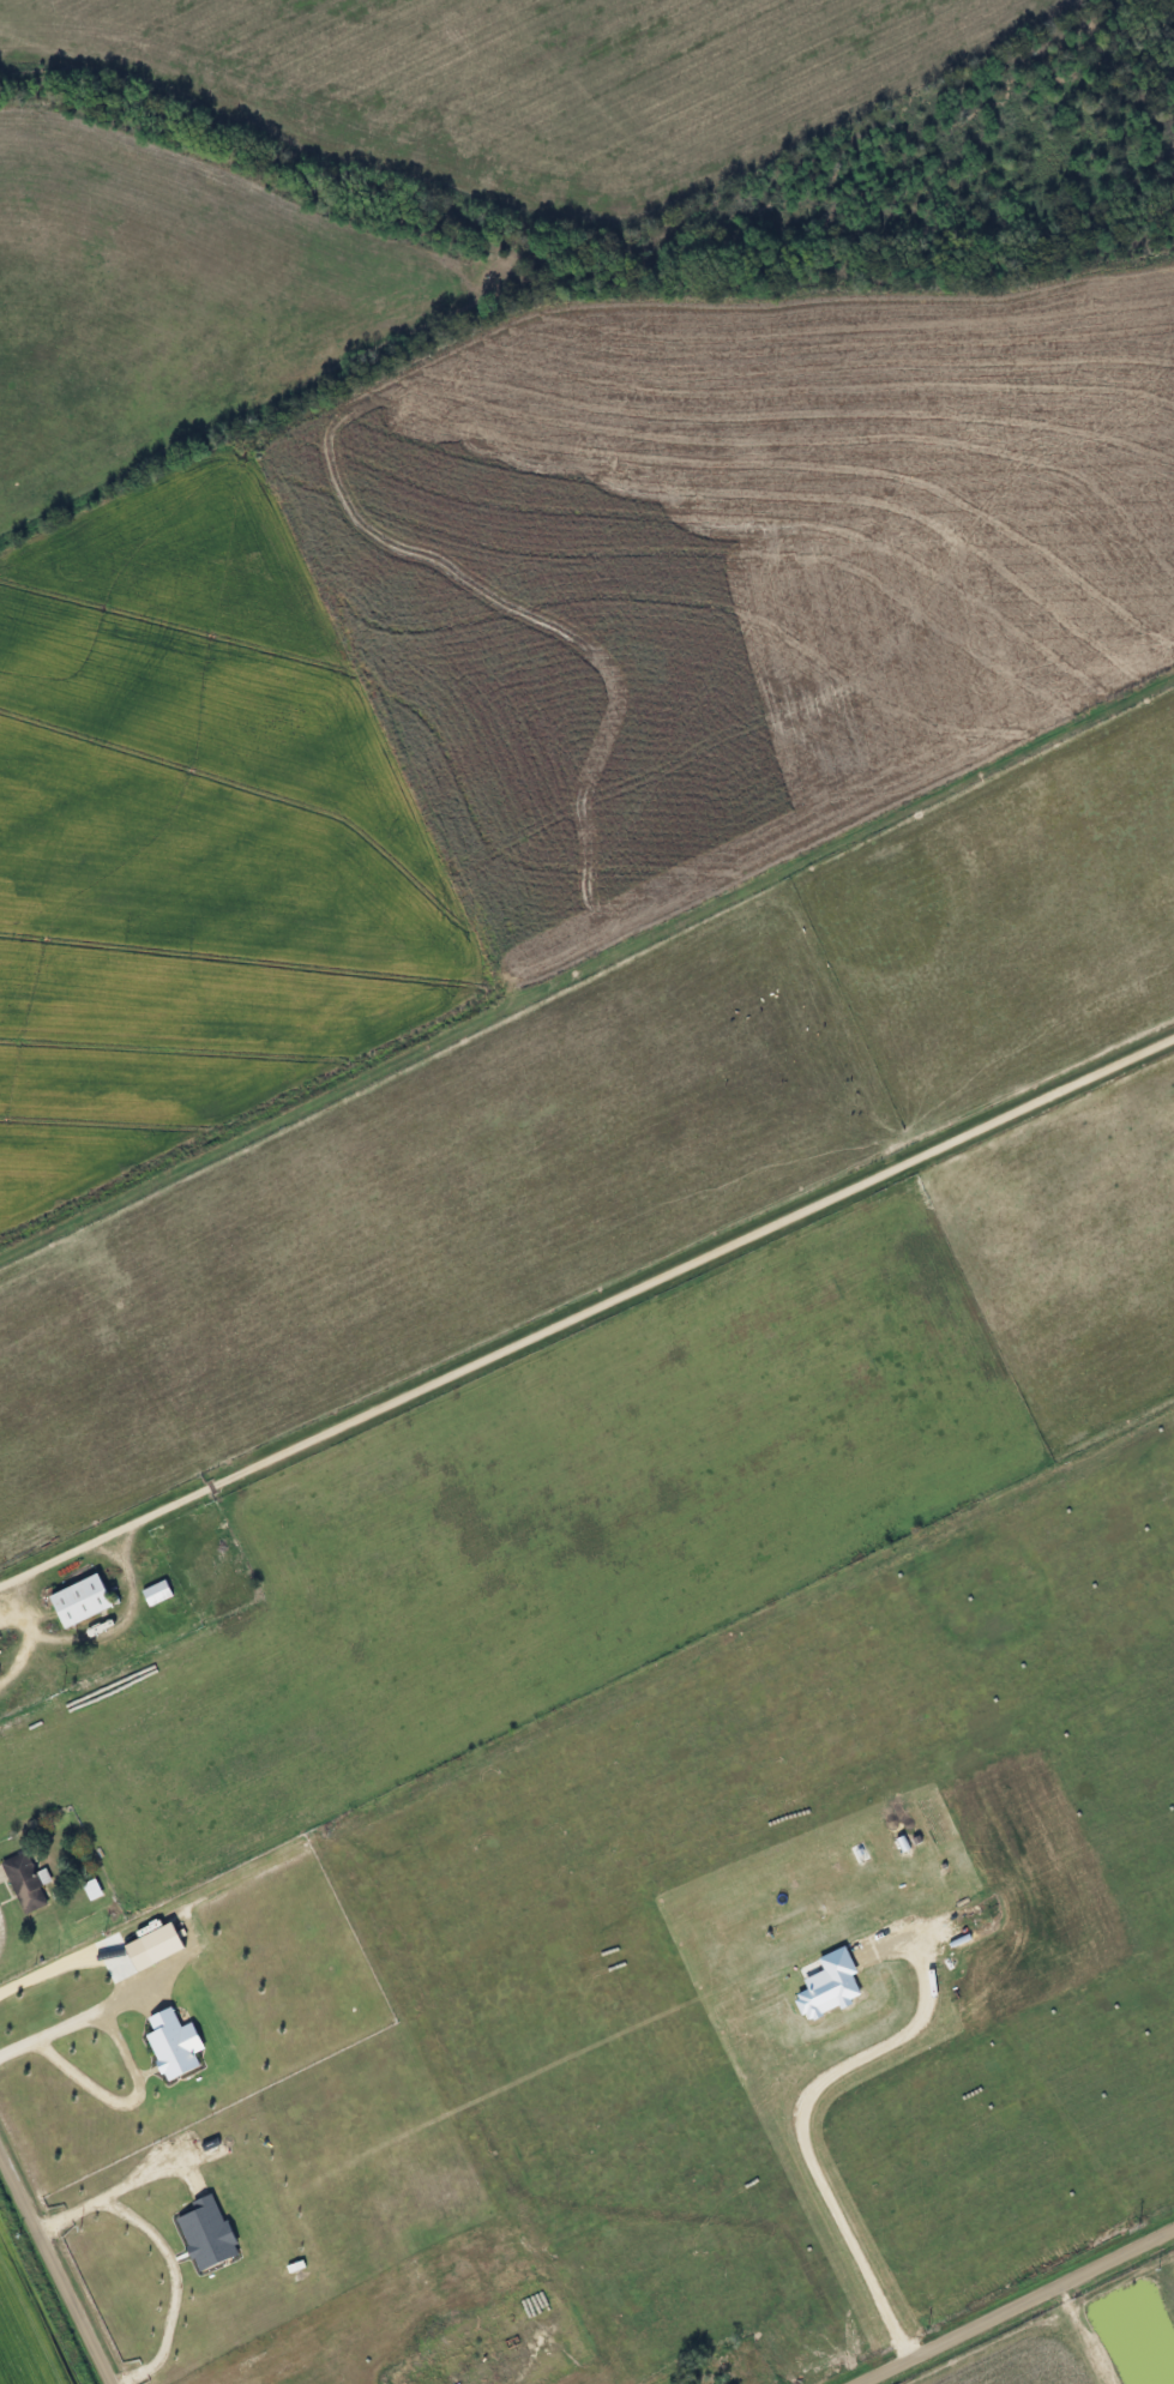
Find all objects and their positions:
road: (586, 1307)
building: (151, 1591)
building: (74, 1599)
road: (19, 1618)
building: (19, 1882)
road: (162, 2252)
road: (56, 2266)
road: (1013, 2304)
park: (721, 2366)

